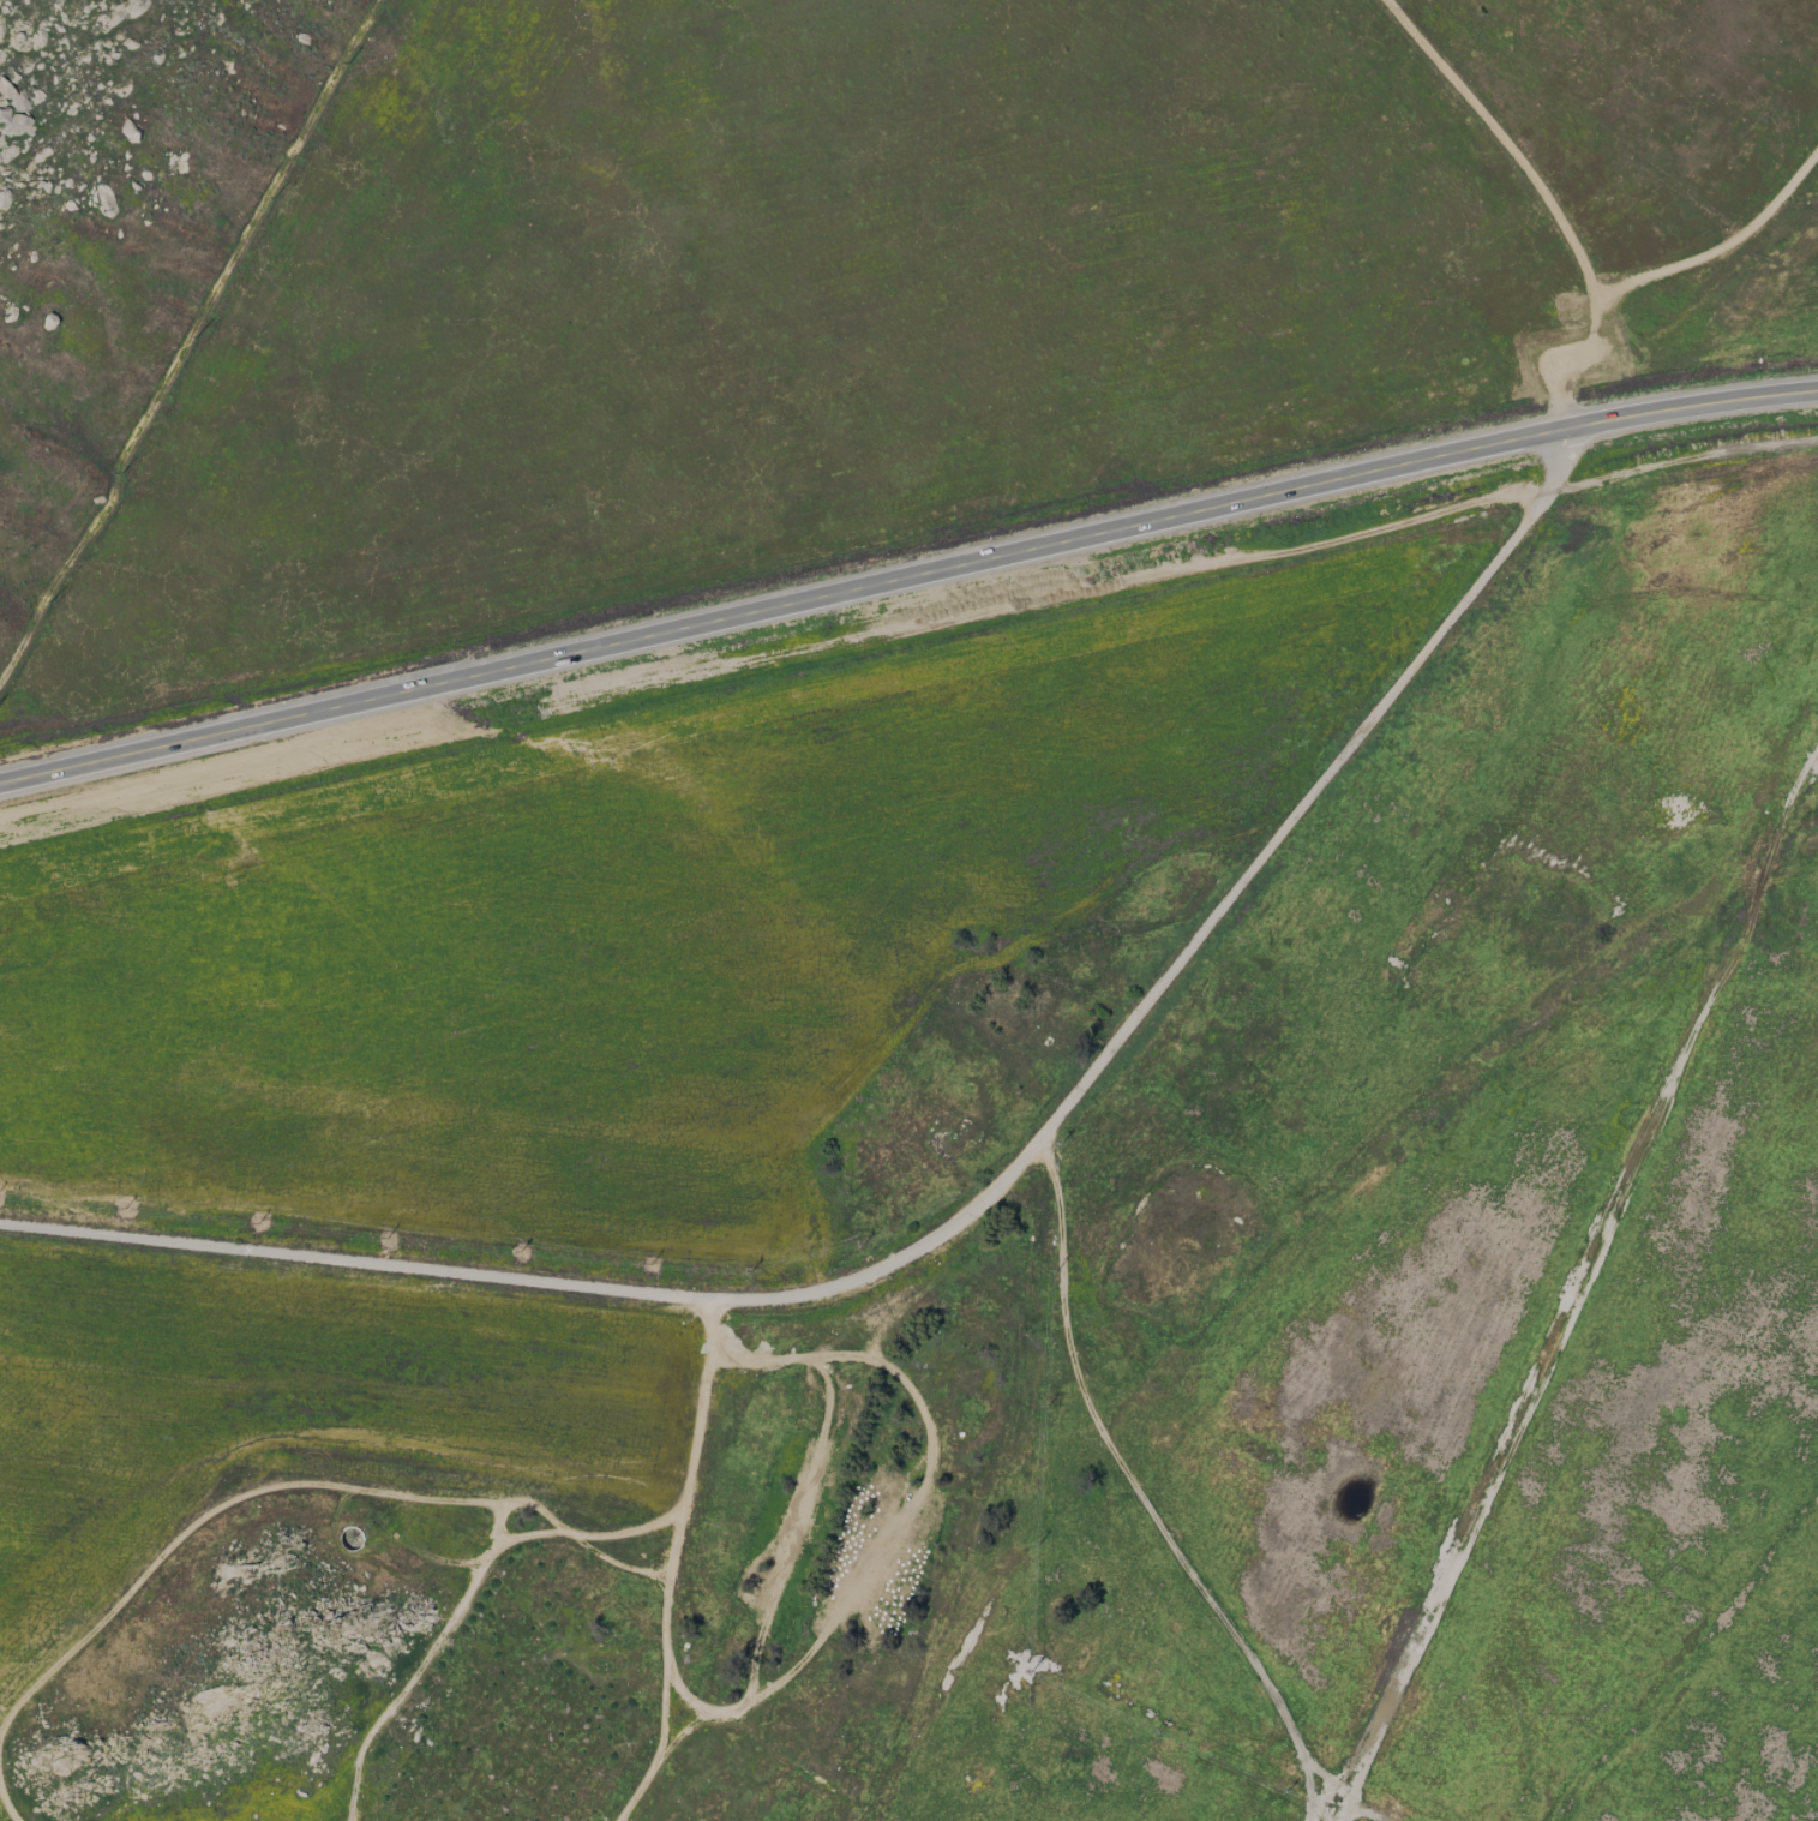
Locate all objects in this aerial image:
road: (1660, 275)
road: (906, 575)
road: (968, 1215)

